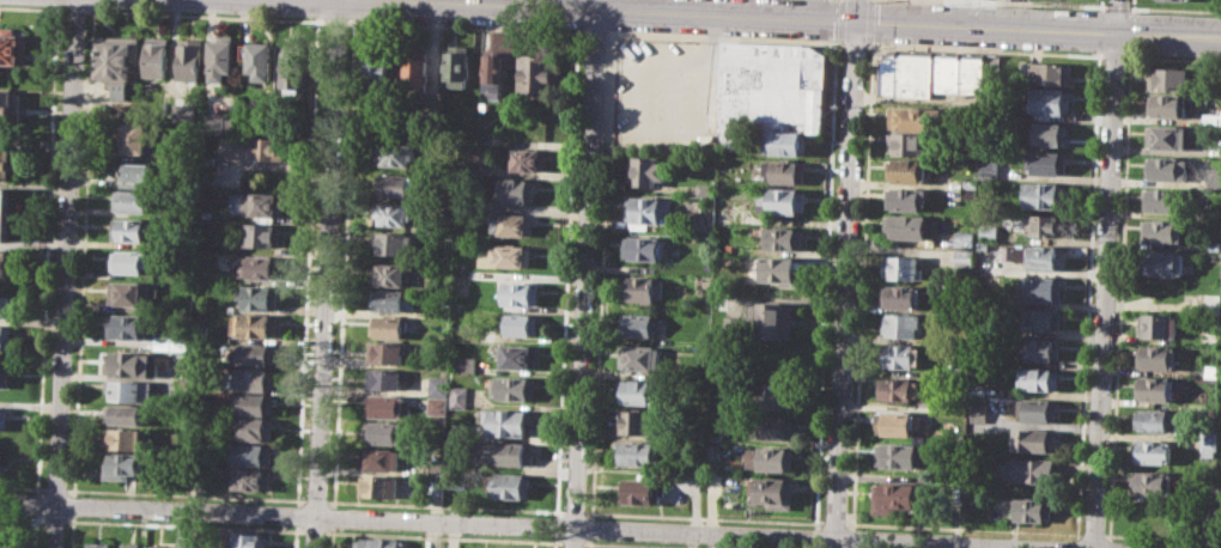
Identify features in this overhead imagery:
building: (1180, 0)
road: (1027, 4)
road: (1100, 4)
road: (1134, 4)
road: (31, 7)
road: (1117, 7)
road: (75, 8)
road: (857, 10)
road: (1173, 10)
road: (206, 14)
road: (1116, 16)
road: (804, 18)
road: (842, 19)
traffic signals: (857, 20)
road: (336, 22)
road: (870, 22)
road: (464, 26)
road: (594, 31)
road: (705, 38)
road: (724, 38)
road: (856, 43)
building: (12, 45)
road: (988, 50)
road: (1116, 55)
building: (220, 56)
building: (157, 57)
road: (1174, 57)
building: (190, 59)
building: (259, 60)
building: (500, 60)
road: (615, 60)
road: (670, 61)
building: (120, 62)
building: (460, 65)
building: (418, 67)
building: (293, 71)
building: (378, 72)
building: (904, 72)
building: (946, 72)
building: (972, 73)
building: (1051, 73)
building: (536, 74)
building: (1168, 78)
building: (772, 87)
road: (636, 93)
parking lot: (668, 93)
building: (1050, 99)
building: (1167, 105)
building: (11, 109)
building: (183, 114)
building: (911, 117)
building: (218, 122)
road: (701, 129)
building: (1049, 133)
building: (1167, 138)
building: (133, 139)
building: (785, 144)
building: (907, 144)
building: (255, 147)
building: (395, 153)
building: (473, 159)
building: (530, 159)
building: (1049, 162)
building: (8, 164)
building: (1166, 168)
building: (649, 169)
building: (909, 170)
building: (990, 170)
building: (785, 171)
building: (141, 175)
building: (394, 184)
building: (971, 189)
building: (518, 190)
building: (1046, 195)
building: (907, 199)
building: (135, 200)
building: (784, 200)
building: (1160, 200)
building: (254, 202)
building: (650, 209)
building: (5, 213)
building: (393, 214)
building: (514, 225)
building: (1046, 225)
building: (906, 226)
building: (132, 230)
building: (1162, 231)
building: (260, 235)
building: (785, 238)
building: (393, 244)
building: (643, 248)
road: (45, 250)
road: (83, 251)
building: (508, 256)
building: (1043, 256)
building: (132, 261)
building: (1164, 262)
building: (8, 263)
road: (305, 263)
road: (341, 264)
building: (261, 267)
building: (901, 267)
building: (706, 269)
building: (784, 270)
road: (565, 273)
road: (63, 274)
road: (324, 274)
building: (390, 274)
road: (601, 275)
road: (584, 279)
road: (827, 282)
road: (844, 284)
road: (863, 284)
building: (645, 288)
building: (1041, 288)
road: (1105, 290)
building: (521, 292)
building: (129, 293)
road: (1088, 296)
building: (260, 297)
road: (1120, 297)
building: (901, 298)
building: (390, 300)
building: (1208, 302)
building: (8, 305)
building: (777, 319)
building: (1044, 319)
building: (522, 323)
building: (254, 324)
building: (901, 324)
building: (127, 325)
building: (639, 325)
building: (1158, 325)
building: (387, 327)
building: (1210, 331)
building: (6, 336)
building: (171, 341)
building: (1041, 348)
building: (253, 353)
building: (385, 353)
building: (899, 355)
building: (520, 357)
building: (639, 357)
building: (1155, 357)
building: (129, 364)
building: (464, 365)
building: (6, 376)
building: (385, 378)
building: (1039, 378)
building: (256, 379)
building: (438, 385)
building: (515, 388)
building: (1155, 388)
building: (898, 389)
building: (979, 389)
building: (130, 390)
building: (639, 391)
building: (777, 395)
building: (460, 396)
building: (254, 404)
building: (388, 406)
building: (438, 407)
building: (1039, 410)
building: (980, 412)
building: (126, 414)
building: (4, 419)
building: (1153, 420)
building: (508, 421)
building: (638, 421)
building: (895, 424)
building: (778, 427)
building: (254, 428)
building: (383, 432)
building: (124, 438)
building: (1035, 439)
building: (1209, 443)
building: (1155, 451)
building: (642, 452)
building: (0, 453)
building: (253, 453)
building: (508, 453)
building: (899, 455)
building: (772, 458)
building: (382, 459)
building: (123, 464)
building: (1028, 470)
building: (250, 477)
building: (1154, 483)
building: (510, 485)
building: (381, 486)
road: (22, 487)
road: (55, 488)
building: (643, 491)
building: (773, 492)
road: (184, 495)
building: (895, 495)
building: (959, 497)
road: (315, 501)
road: (36, 504)
road: (72, 504)
road: (444, 507)
building: (1034, 510)
road: (573, 512)
road: (296, 516)
road: (22, 517)
road: (332, 517)
road: (703, 517)
road: (54, 519)
road: (514, 523)
road: (833, 524)
road: (183, 525)
road: (555, 525)
road: (590, 528)
road: (962, 529)
road: (34, 530)
road: (71, 531)
road: (314, 531)
road: (1092, 534)
road: (293, 536)
road: (1162, 536)
building: (5, 537)
road: (330, 537)
road: (443, 537)
road: (816, 537)
road: (852, 537)
building: (247, 540)
road: (554, 541)
building: (381, 542)
road: (572, 542)
road: (589, 542)
road: (1079, 543)
road: (1110, 543)
building: (99, 544)
building: (132, 544)
building: (190, 544)
road: (636, 544)
building: (159, 546)
building: (178, 547)

